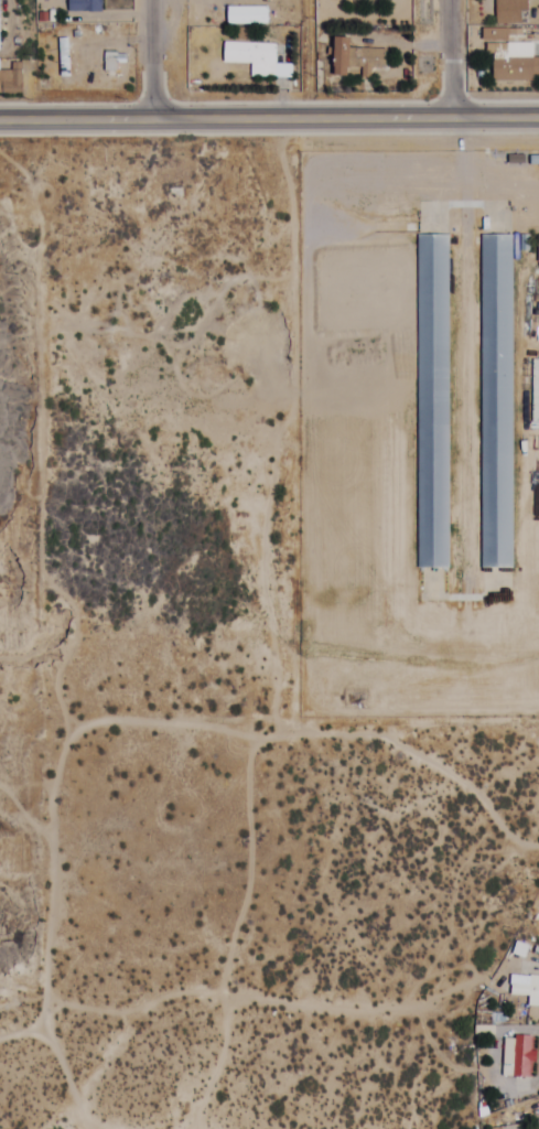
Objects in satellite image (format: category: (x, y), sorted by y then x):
building: (85, 6)
building: (507, 12)
building: (246, 17)
building: (248, 54)
road: (450, 57)
road: (154, 58)
building: (355, 60)
building: (511, 63)
building: (11, 80)
road: (269, 116)
building: (432, 402)
building: (497, 402)
building: (524, 987)
building: (517, 1057)
building: (510, 1128)

